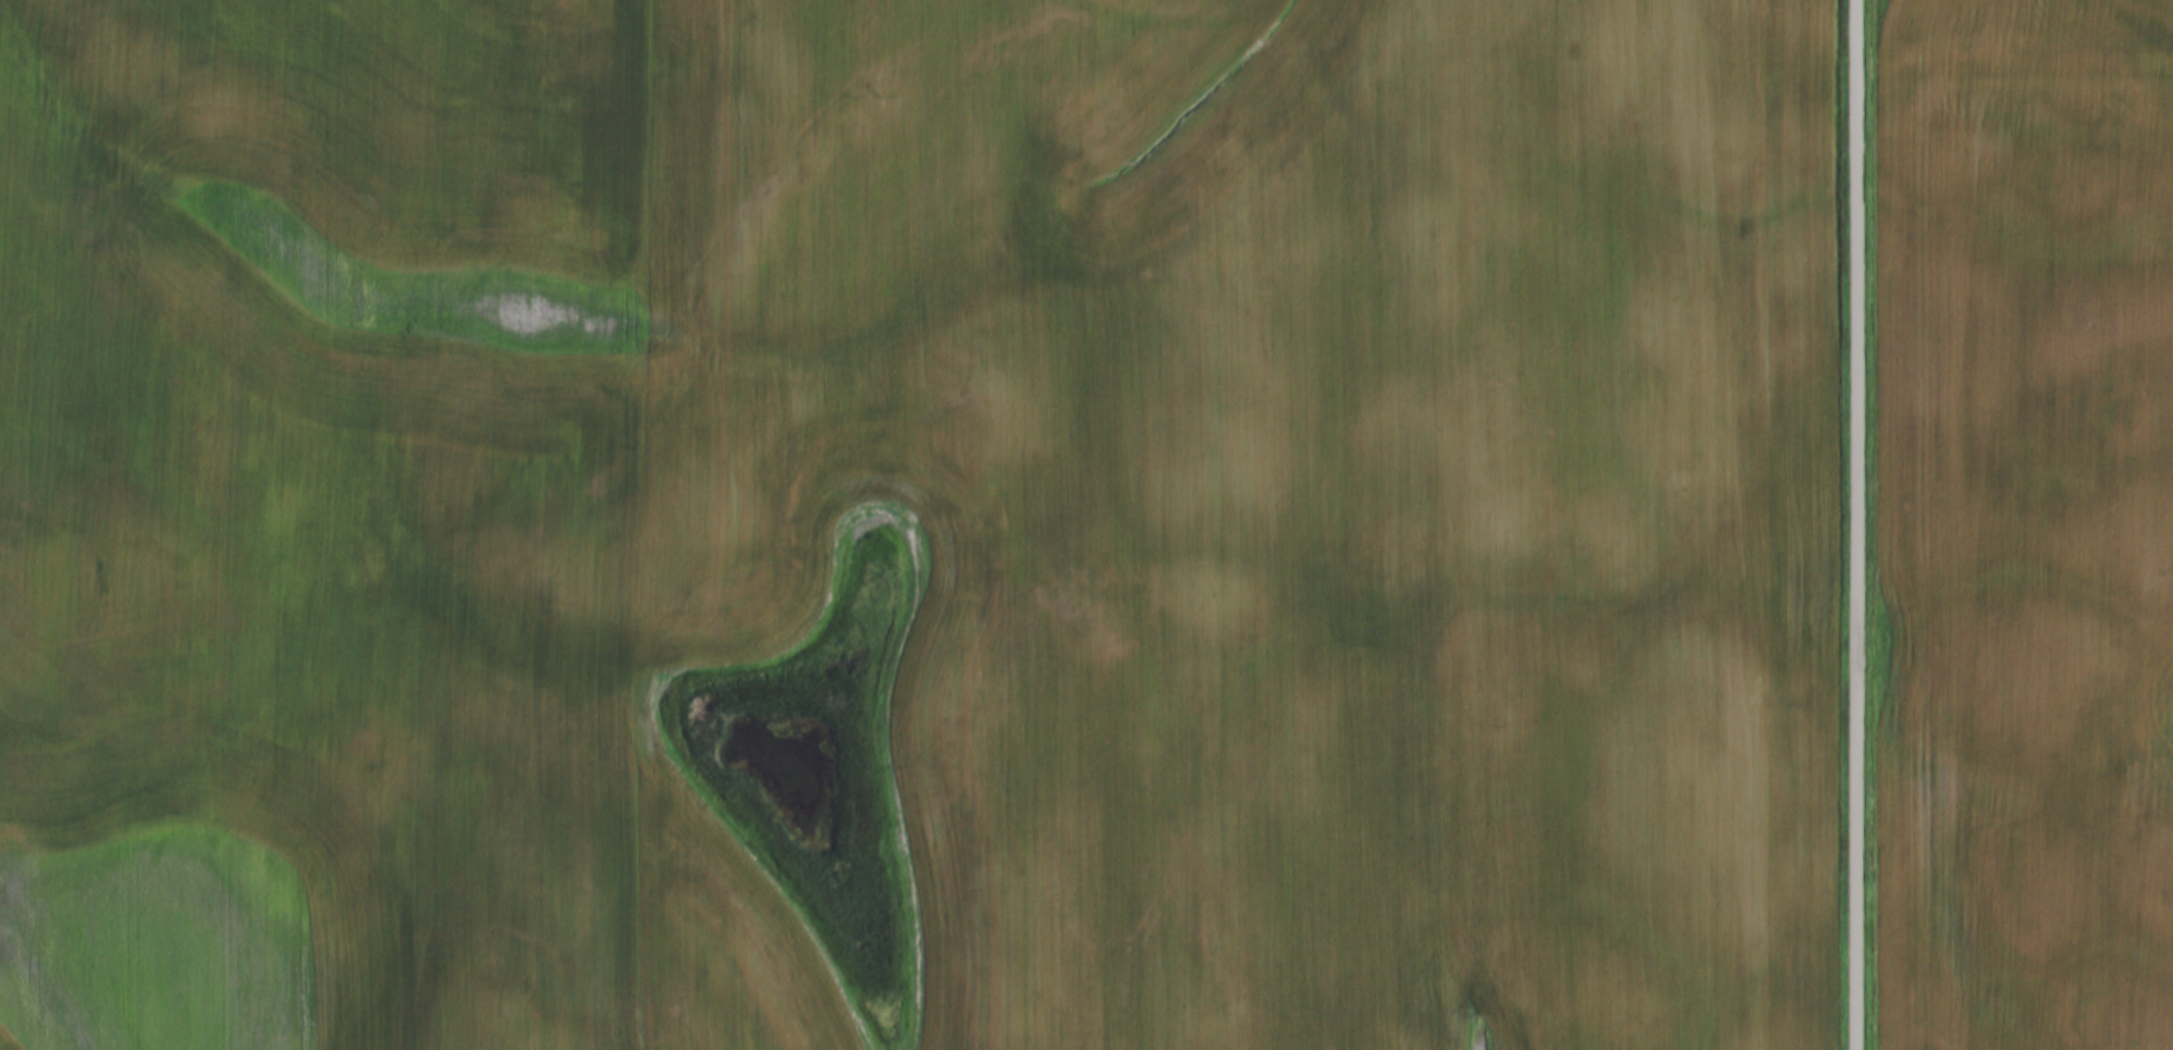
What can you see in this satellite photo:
road: (1861, 524)

